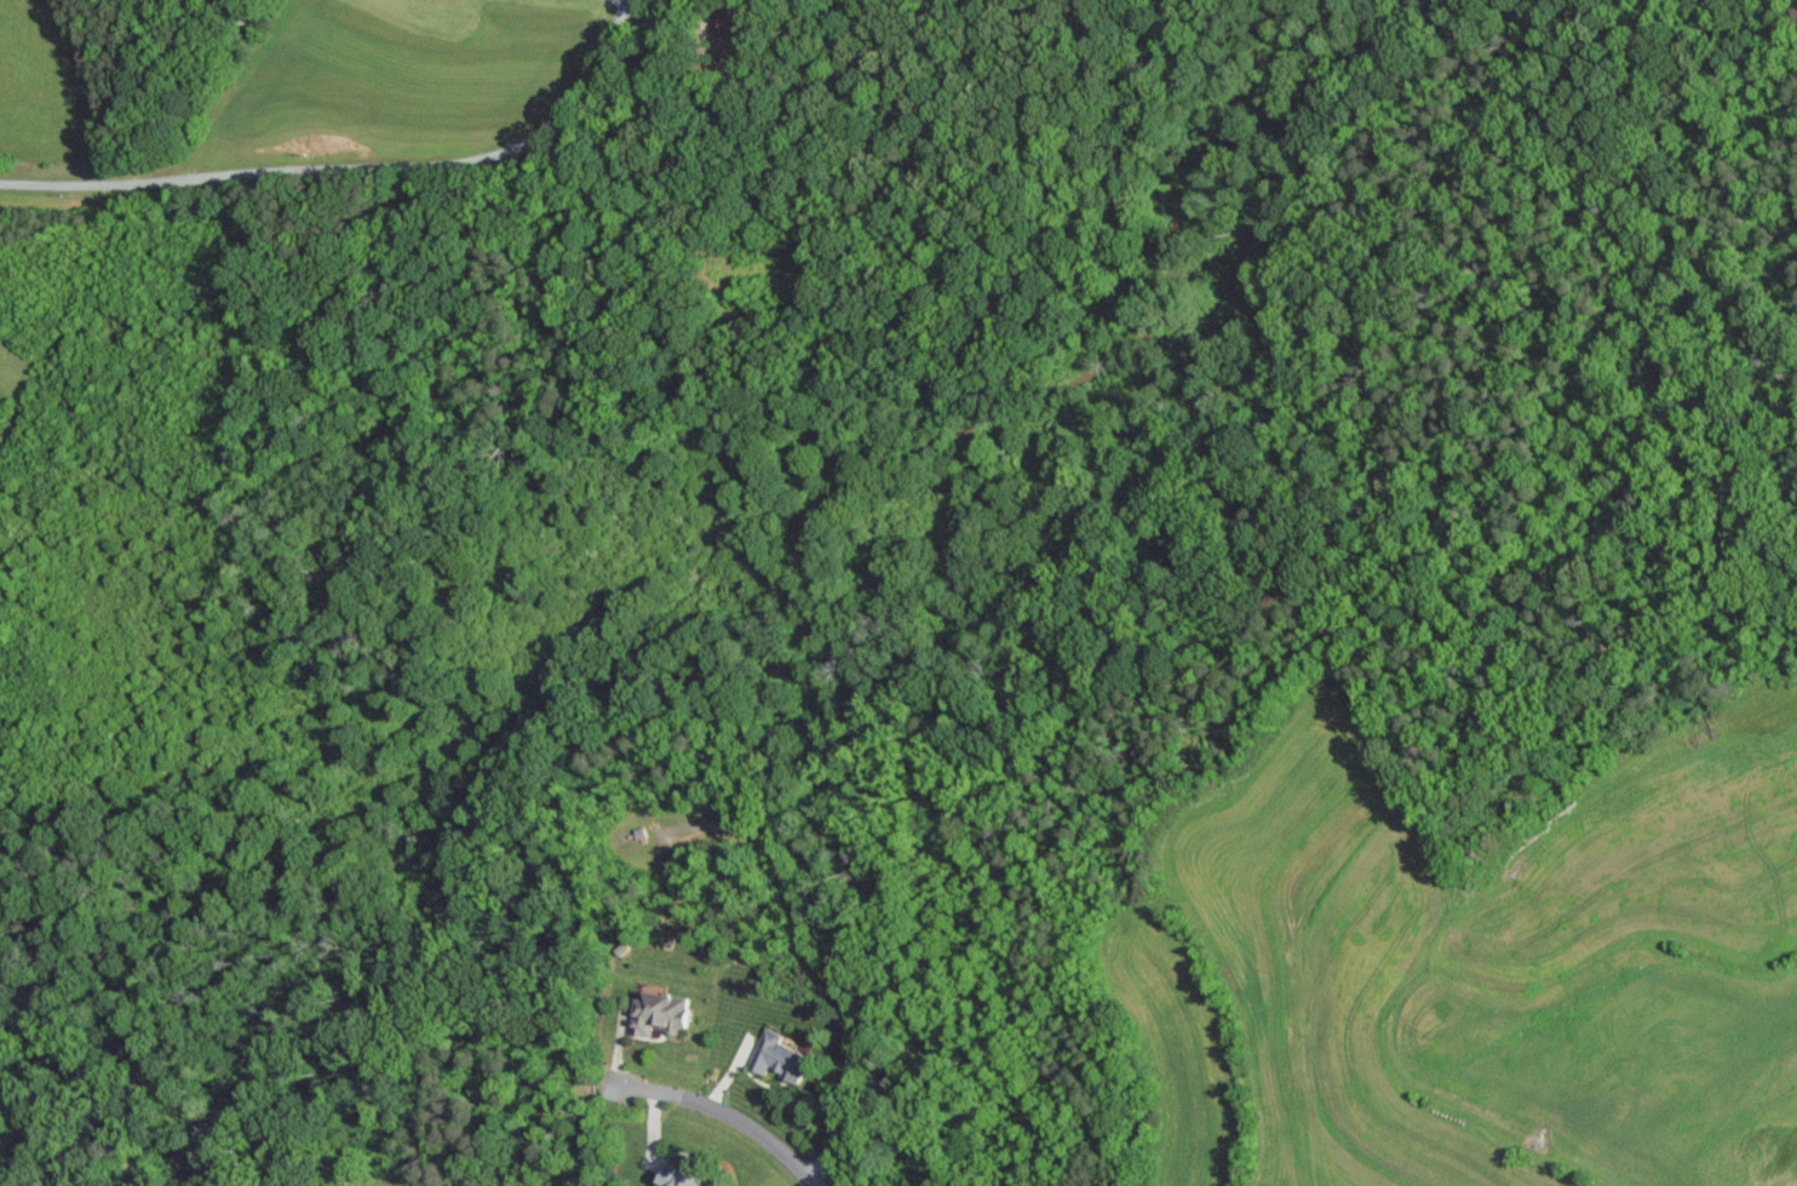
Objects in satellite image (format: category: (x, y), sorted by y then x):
road: (354, 165)
road: (820, 956)
building: (656, 1013)
building: (776, 1059)
road: (728, 1117)
building: (677, 1181)

